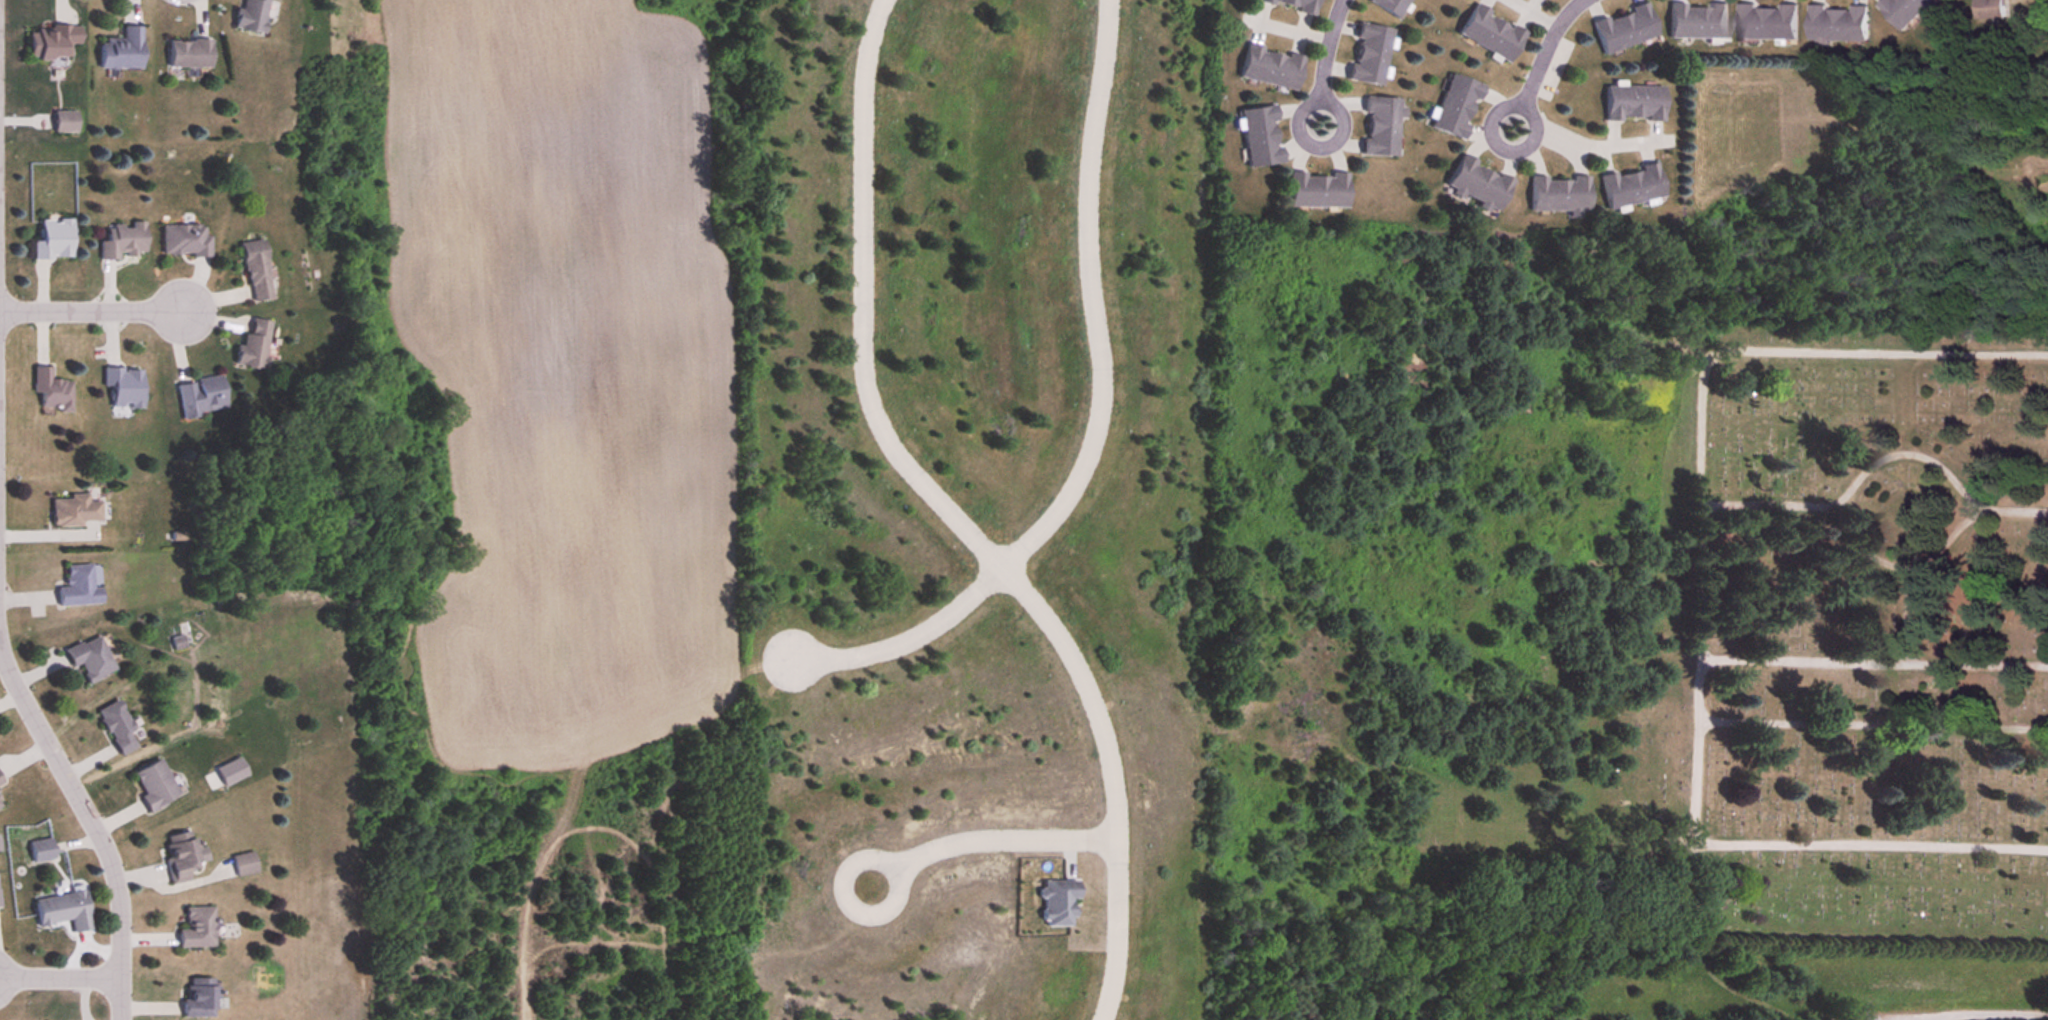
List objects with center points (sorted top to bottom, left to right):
building: (1292, 5)
building: (1389, 6)
building: (1988, 9)
building: (1903, 11)
building: (249, 16)
building: (1696, 21)
building: (1766, 22)
building: (1836, 24)
building: (1622, 29)
building: (1489, 33)
building: (54, 42)
building: (124, 50)
building: (191, 54)
building: (1367, 55)
road: (1538, 60)
road: (1323, 61)
building: (1269, 66)
building: (1632, 104)
building: (1453, 107)
building: (67, 121)
building: (1379, 127)
building: (1258, 136)
road: (1586, 139)
building: (1476, 185)
building: (1629, 187)
building: (1315, 190)
building: (1557, 195)
building: (56, 241)
building: (125, 241)
building: (187, 241)
building: (258, 271)
road: (91, 311)
building: (255, 346)
building: (125, 388)
building: (53, 391)
building: (203, 397)
road: (1095, 423)
building: (76, 511)
road: (958, 517)
building: (82, 587)
park: (1821, 650)
building: (92, 659)
building: (120, 728)
building: (1, 781)
building: (157, 785)
building: (1, 805)
road: (87, 810)
road: (987, 843)
building: (38, 850)
building: (180, 856)
building: (242, 864)
building: (1056, 902)
building: (60, 910)
building: (195, 927)
road: (60, 977)
building: (196, 998)
road: (1974, 1014)

